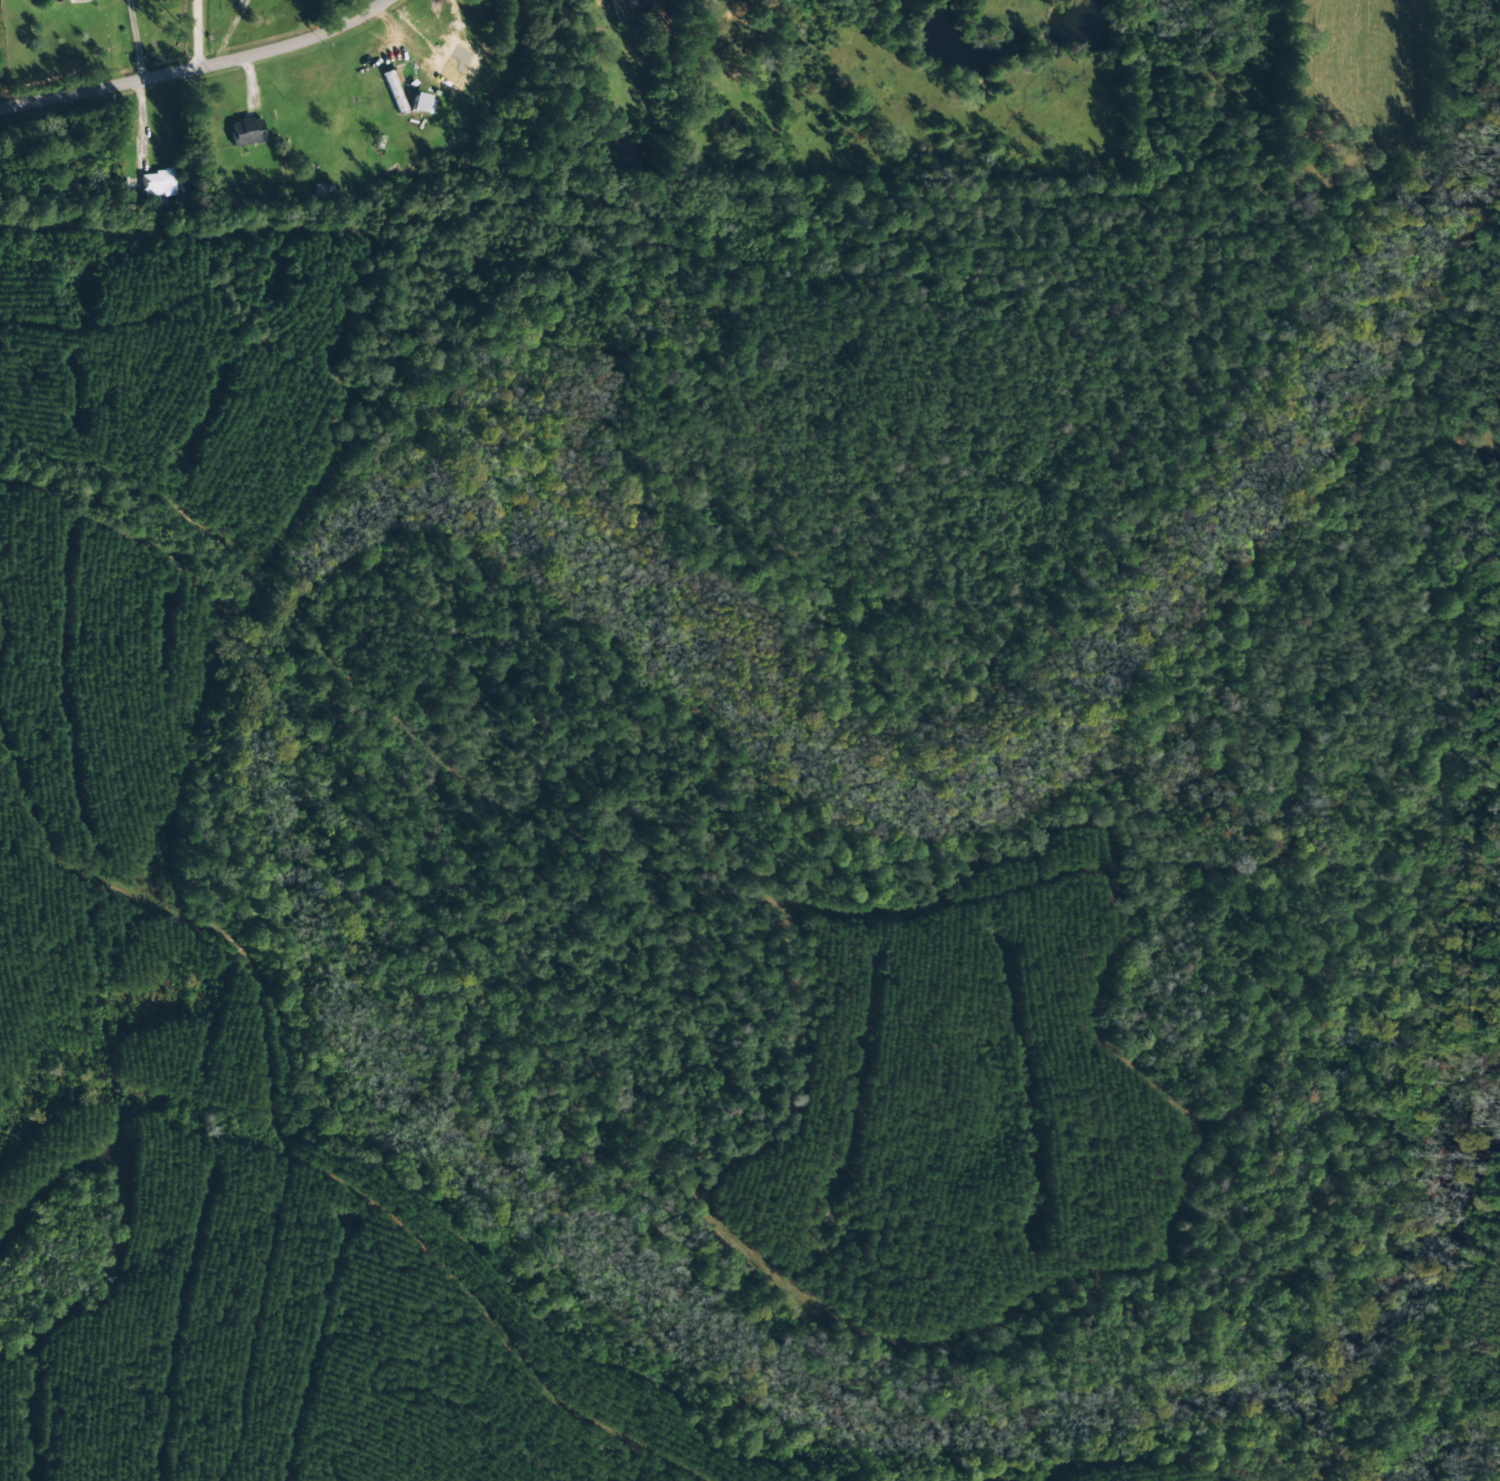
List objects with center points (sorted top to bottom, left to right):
building: (631, 7)
road: (198, 34)
road: (199, 69)
building: (394, 89)
building: (423, 103)
building: (247, 131)
building: (157, 181)

